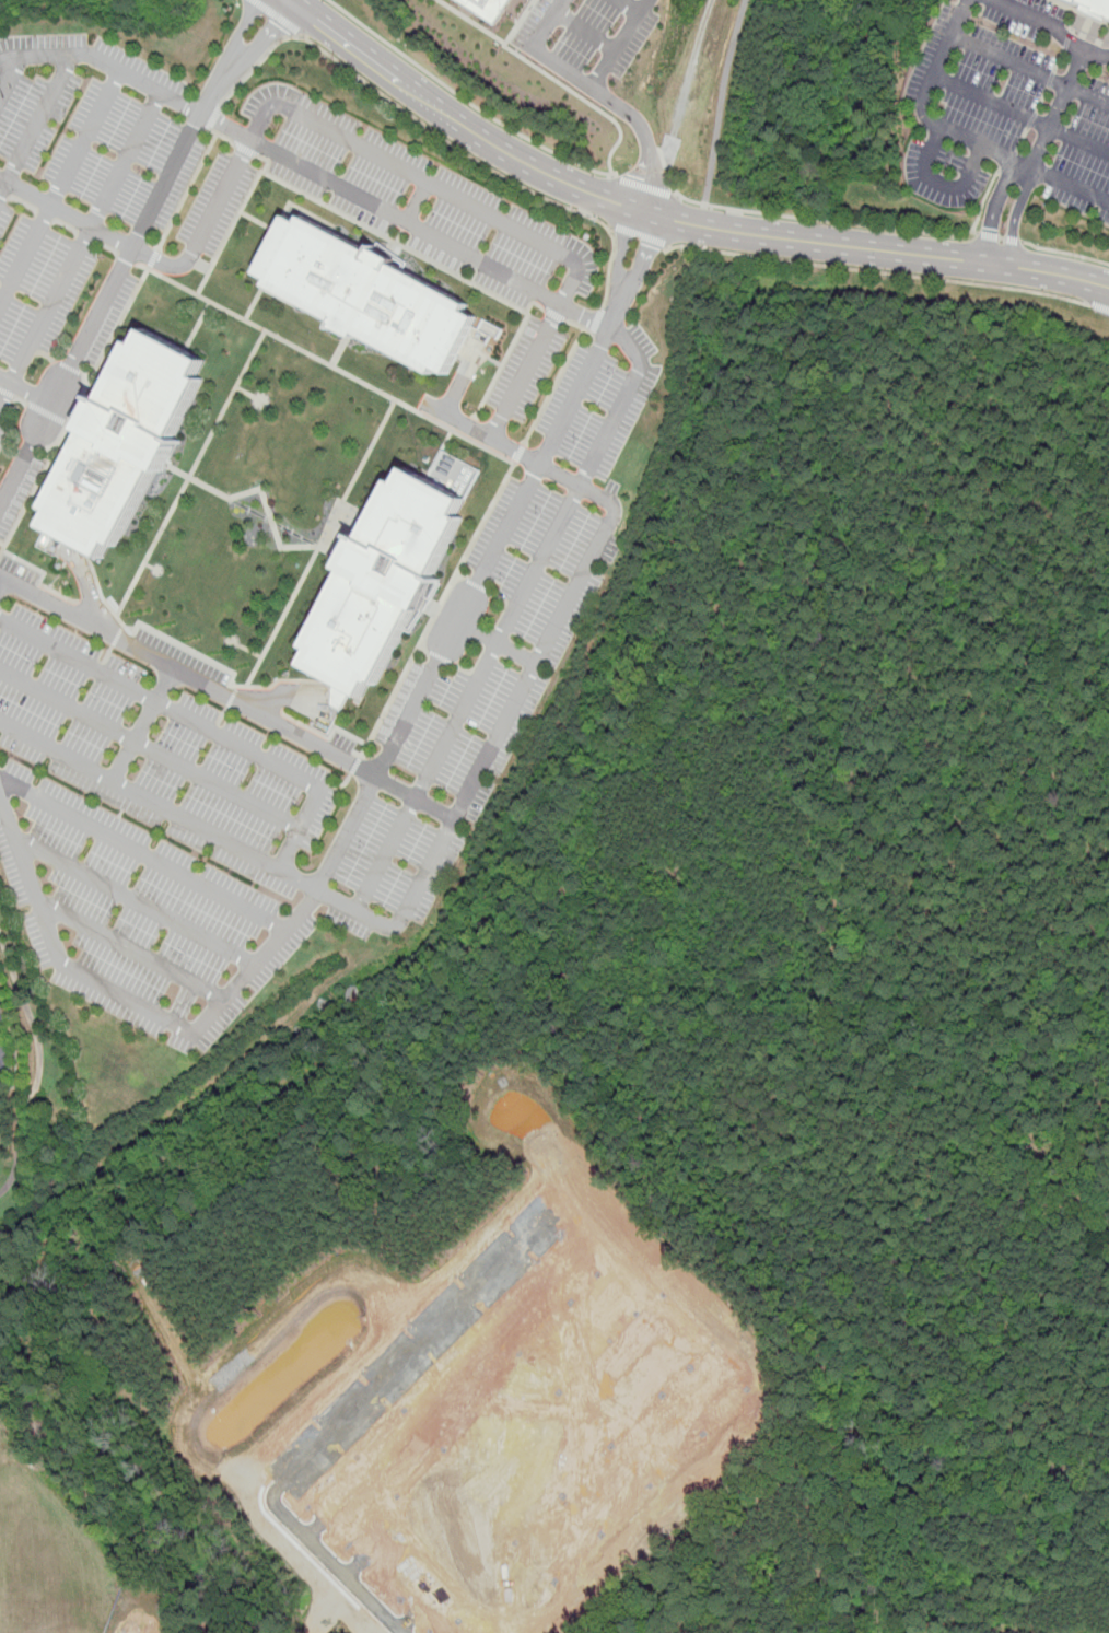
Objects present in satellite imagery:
building: (1096, 5)
road: (631, 7)
building: (488, 8)
road: (273, 15)
road: (471, 21)
road: (1053, 27)
road: (583, 32)
parking lot: (586, 38)
road: (238, 55)
road: (106, 59)
road: (1034, 65)
road: (11, 78)
road: (582, 80)
road: (559, 83)
road: (689, 84)
road: (462, 97)
road: (722, 102)
parking lot: (1012, 105)
road: (1058, 108)
road: (1023, 113)
road: (938, 123)
road: (38, 127)
road: (435, 132)
road: (647, 138)
road: (1025, 164)
road: (1027, 171)
parking lot: (101, 177)
road: (427, 178)
road: (644, 185)
road: (61, 187)
road: (416, 198)
parking lot: (416, 199)
road: (68, 211)
road: (672, 219)
road: (857, 223)
road: (208, 224)
road: (640, 234)
road: (997, 236)
road: (454, 243)
road: (81, 244)
road: (1065, 253)
road: (876, 271)
road: (623, 293)
building: (369, 294)
road: (104, 306)
road: (1098, 307)
parking lot: (102, 317)
road: (199, 320)
road: (327, 362)
road: (26, 388)
parking lot: (572, 389)
road: (35, 407)
parking lot: (2, 408)
parking lot: (2, 432)
building: (126, 441)
road: (442, 448)
road: (184, 480)
parking lot: (16, 483)
road: (260, 487)
road: (314, 549)
building: (389, 580)
road: (2, 581)
road: (86, 588)
road: (466, 607)
road: (501, 635)
parking lot: (502, 635)
road: (499, 642)
road: (527, 681)
road: (227, 697)
road: (281, 700)
road: (141, 723)
road: (198, 724)
road: (149, 748)
road: (138, 794)
parking lot: (186, 823)
road: (144, 852)
road: (137, 901)
road: (133, 950)
road: (135, 1002)
building: (2, 1014)
building: (2, 1022)
road: (38, 1065)
road: (542, 1226)
road: (345, 1558)

